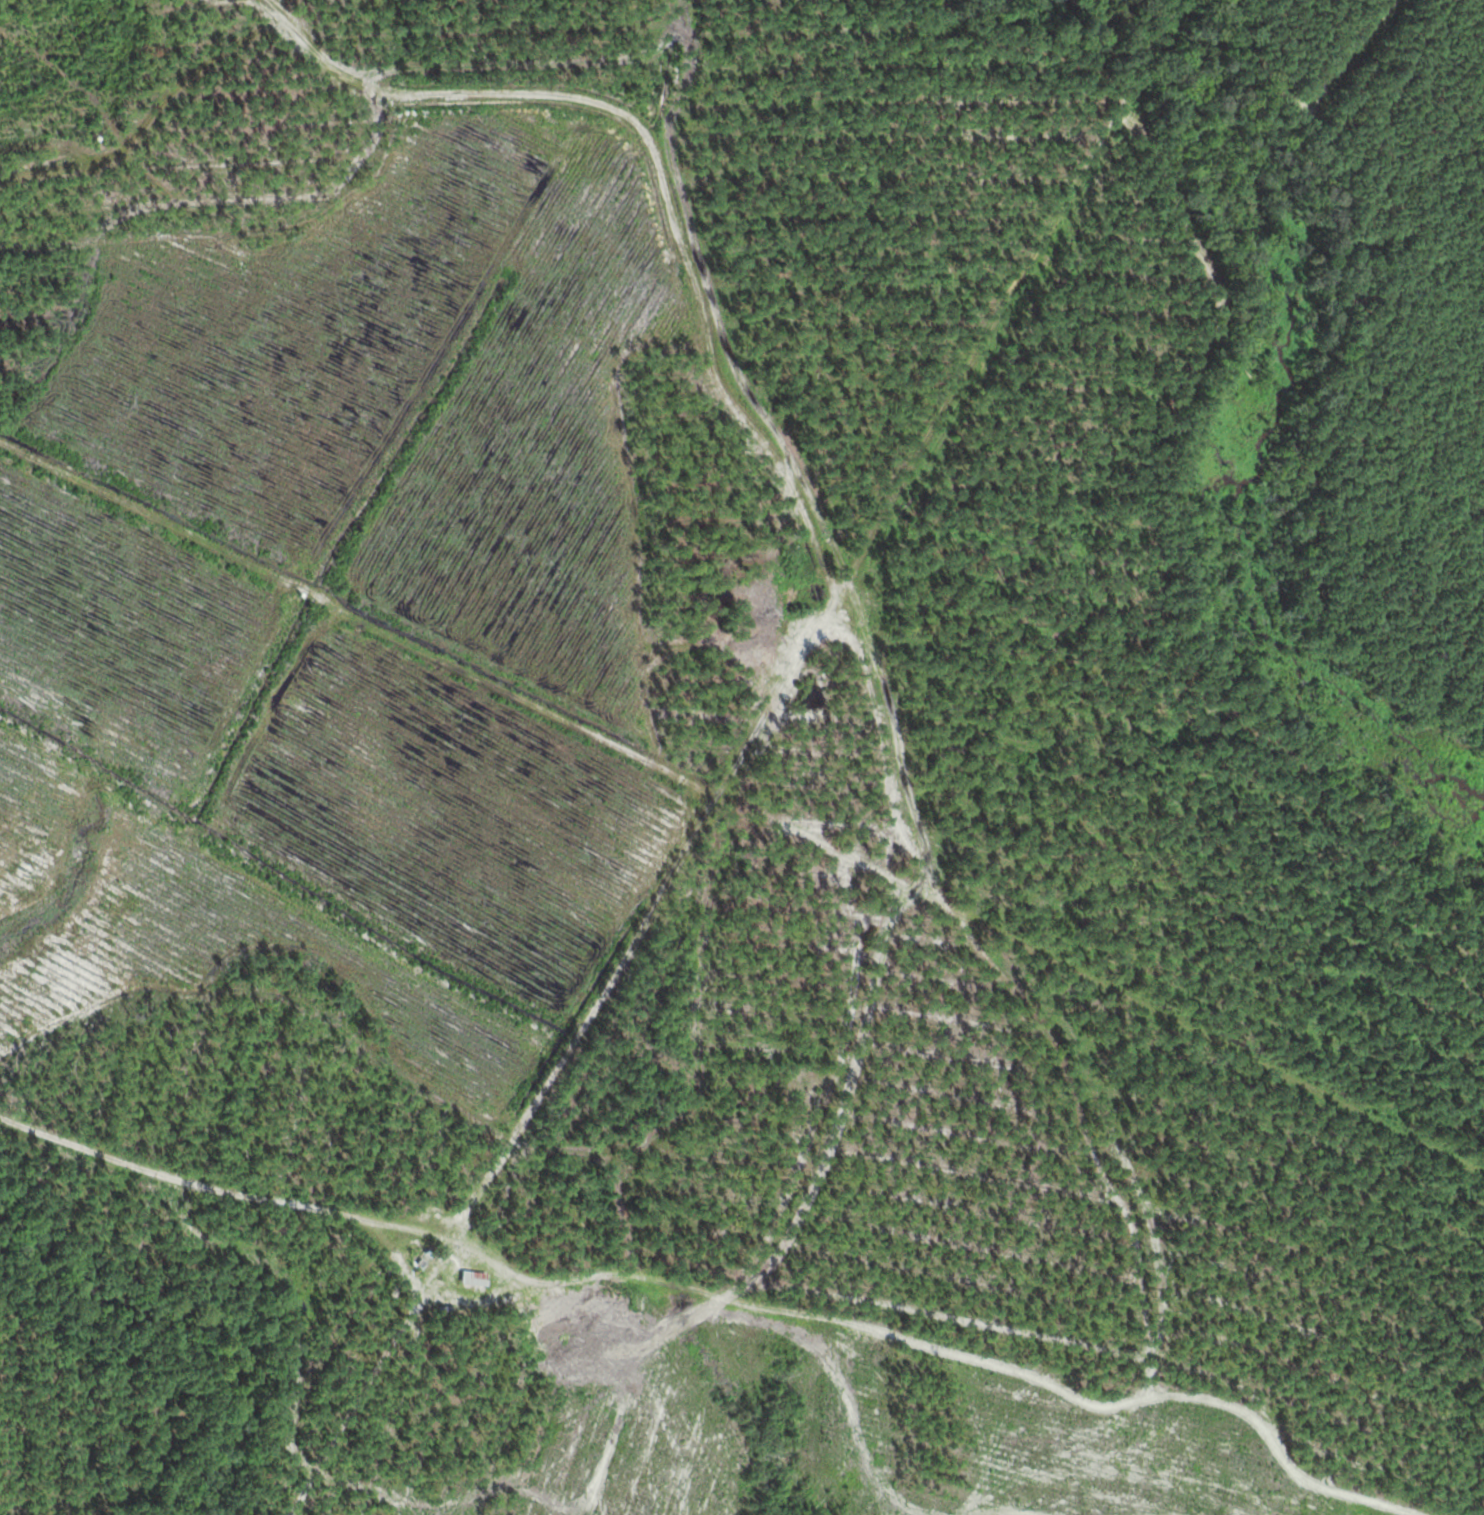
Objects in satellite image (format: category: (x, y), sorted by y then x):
road: (568, 359)
building: (423, 1261)
building: (471, 1280)

